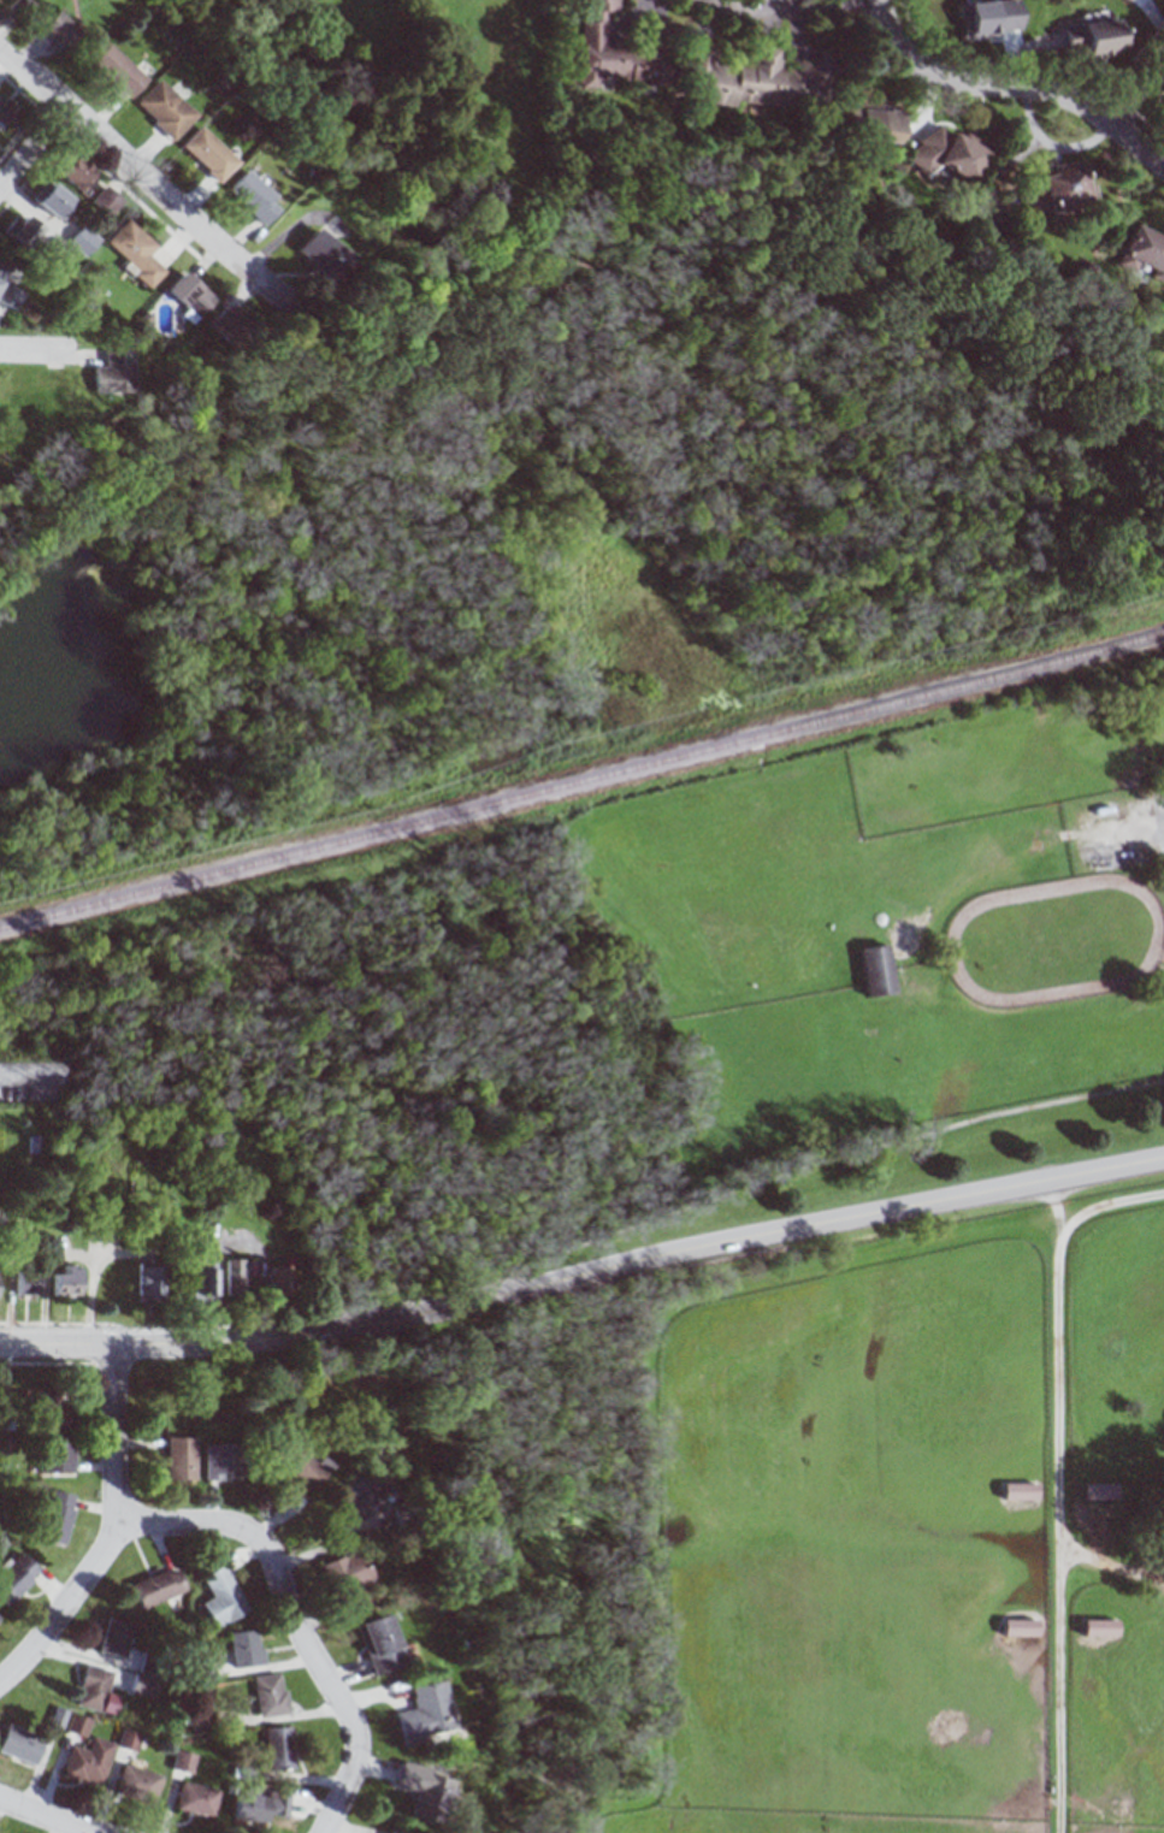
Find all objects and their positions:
building: (1129, 0)
road: (791, 10)
building: (60, 29)
building: (1093, 37)
building: (622, 52)
building: (118, 70)
building: (760, 81)
road: (1015, 85)
road: (1138, 91)
building: (165, 108)
building: (5, 112)
building: (875, 125)
road: (33, 147)
building: (208, 153)
building: (949, 155)
building: (76, 171)
road: (144, 173)
building: (1057, 191)
building: (250, 194)
building: (53, 199)
building: (23, 229)
building: (83, 240)
building: (57, 250)
building: (135, 252)
building: (1144, 254)
building: (318, 255)
building: (10, 288)
building: (188, 294)
building: (220, 324)
road: (37, 350)
building: (111, 373)
building: (33, 407)
building: (878, 969)
road: (833, 1157)
road: (876, 1212)
building: (205, 1275)
building: (236, 1276)
building: (280, 1279)
building: (66, 1281)
building: (25, 1283)
building: (149, 1283)
road: (59, 1321)
road: (297, 1336)
building: (55, 1408)
building: (58, 1456)
building: (182, 1457)
building: (221, 1460)
building: (303, 1468)
building: (366, 1486)
building: (1020, 1490)
building: (1099, 1490)
building: (59, 1516)
crop: (886, 1526)
road: (114, 1532)
building: (17, 1575)
building: (349, 1581)
building: (160, 1586)
building: (224, 1597)
building: (0, 1619)
road: (297, 1619)
building: (1021, 1626)
building: (1100, 1626)
building: (117, 1637)
building: (382, 1643)
building: (248, 1648)
building: (99, 1690)
building: (272, 1693)
building: (425, 1714)
building: (81, 1723)
building: (132, 1739)
building: (23, 1744)
building: (280, 1748)
building: (90, 1761)
building: (187, 1761)
building: (141, 1782)
building: (421, 1790)
building: (199, 1798)
building: (261, 1804)
road: (52, 1815)
building: (397, 1832)

